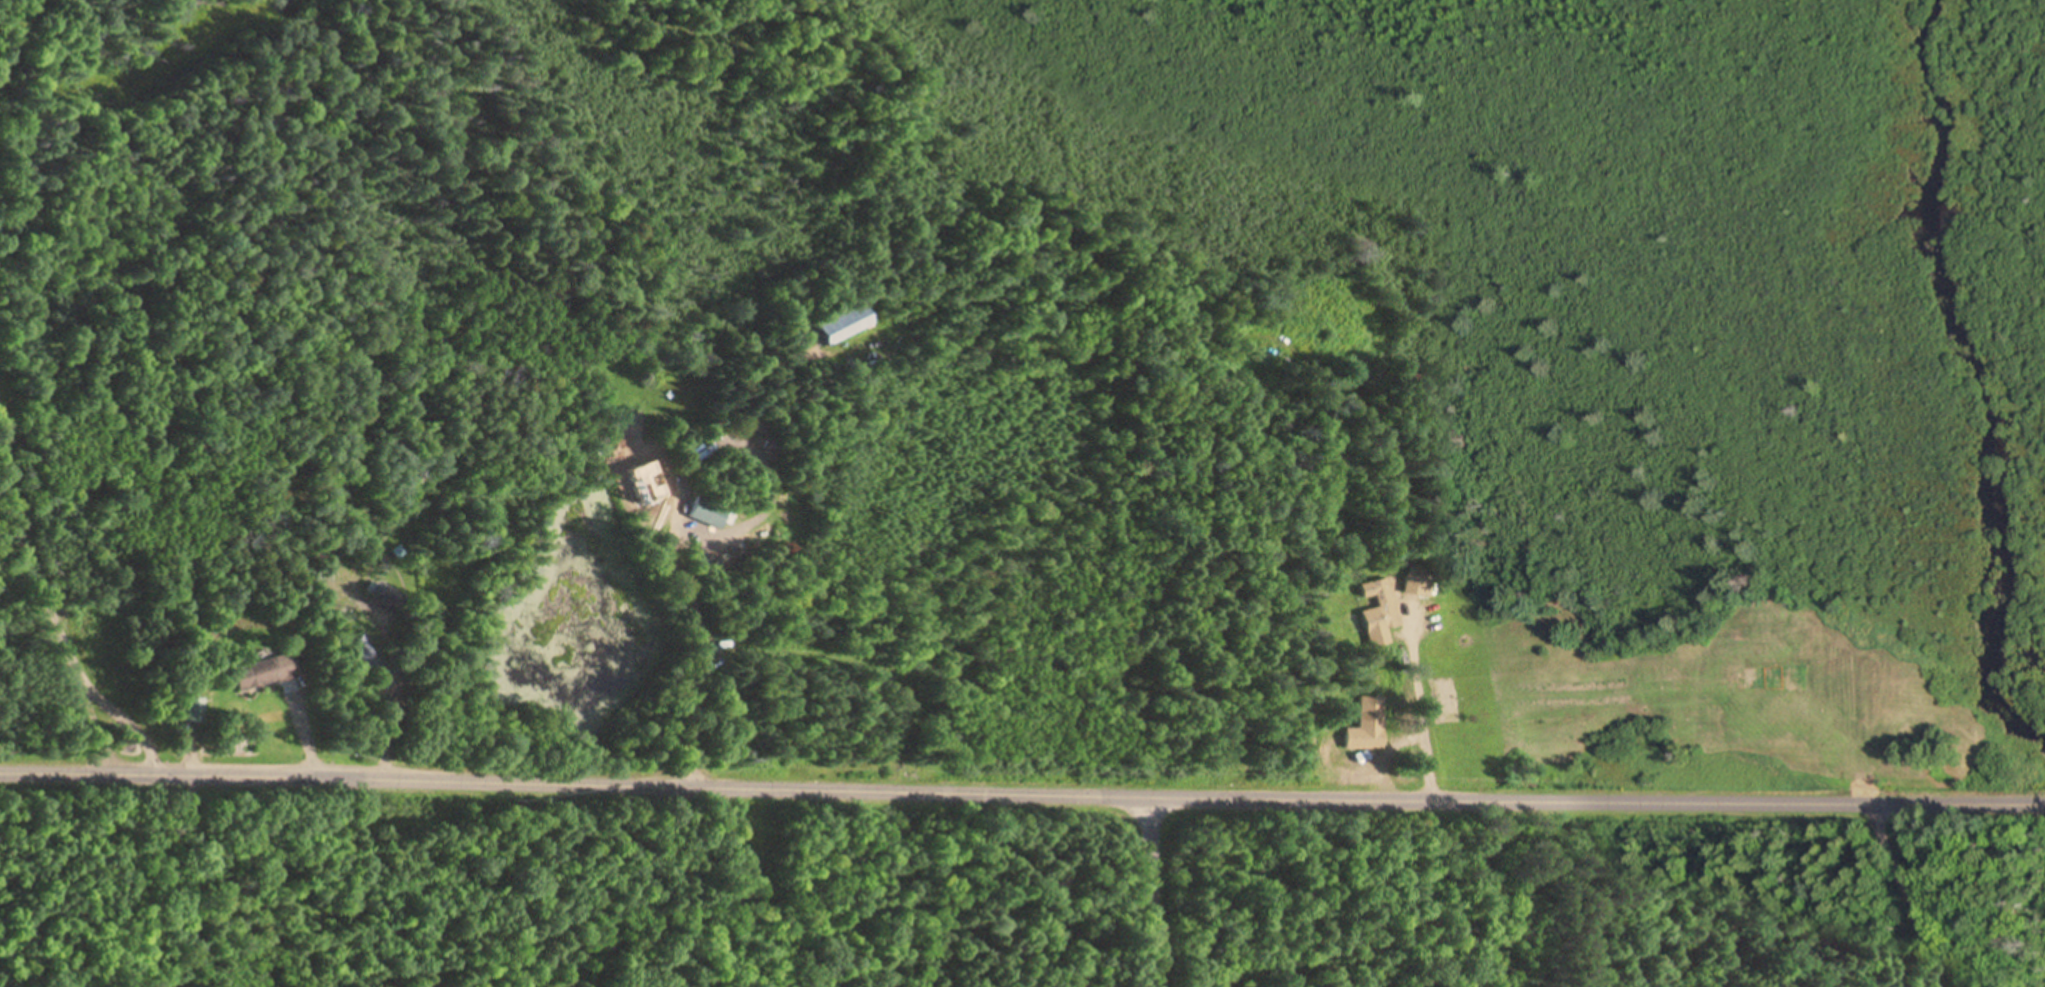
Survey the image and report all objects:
building: (852, 325)
road: (1373, 488)
building: (708, 513)
building: (1374, 590)
building: (271, 672)
road: (1022, 788)
road: (1154, 889)
road: (1915, 890)

